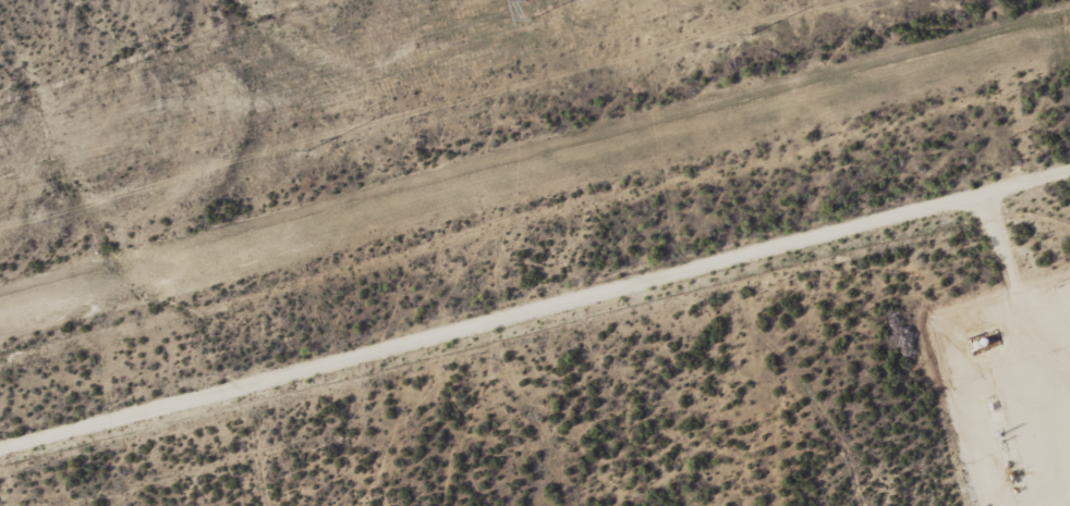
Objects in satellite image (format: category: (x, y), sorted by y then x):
power tower: (532, 12)
power tower: (752, 34)
power tower: (307, 151)

